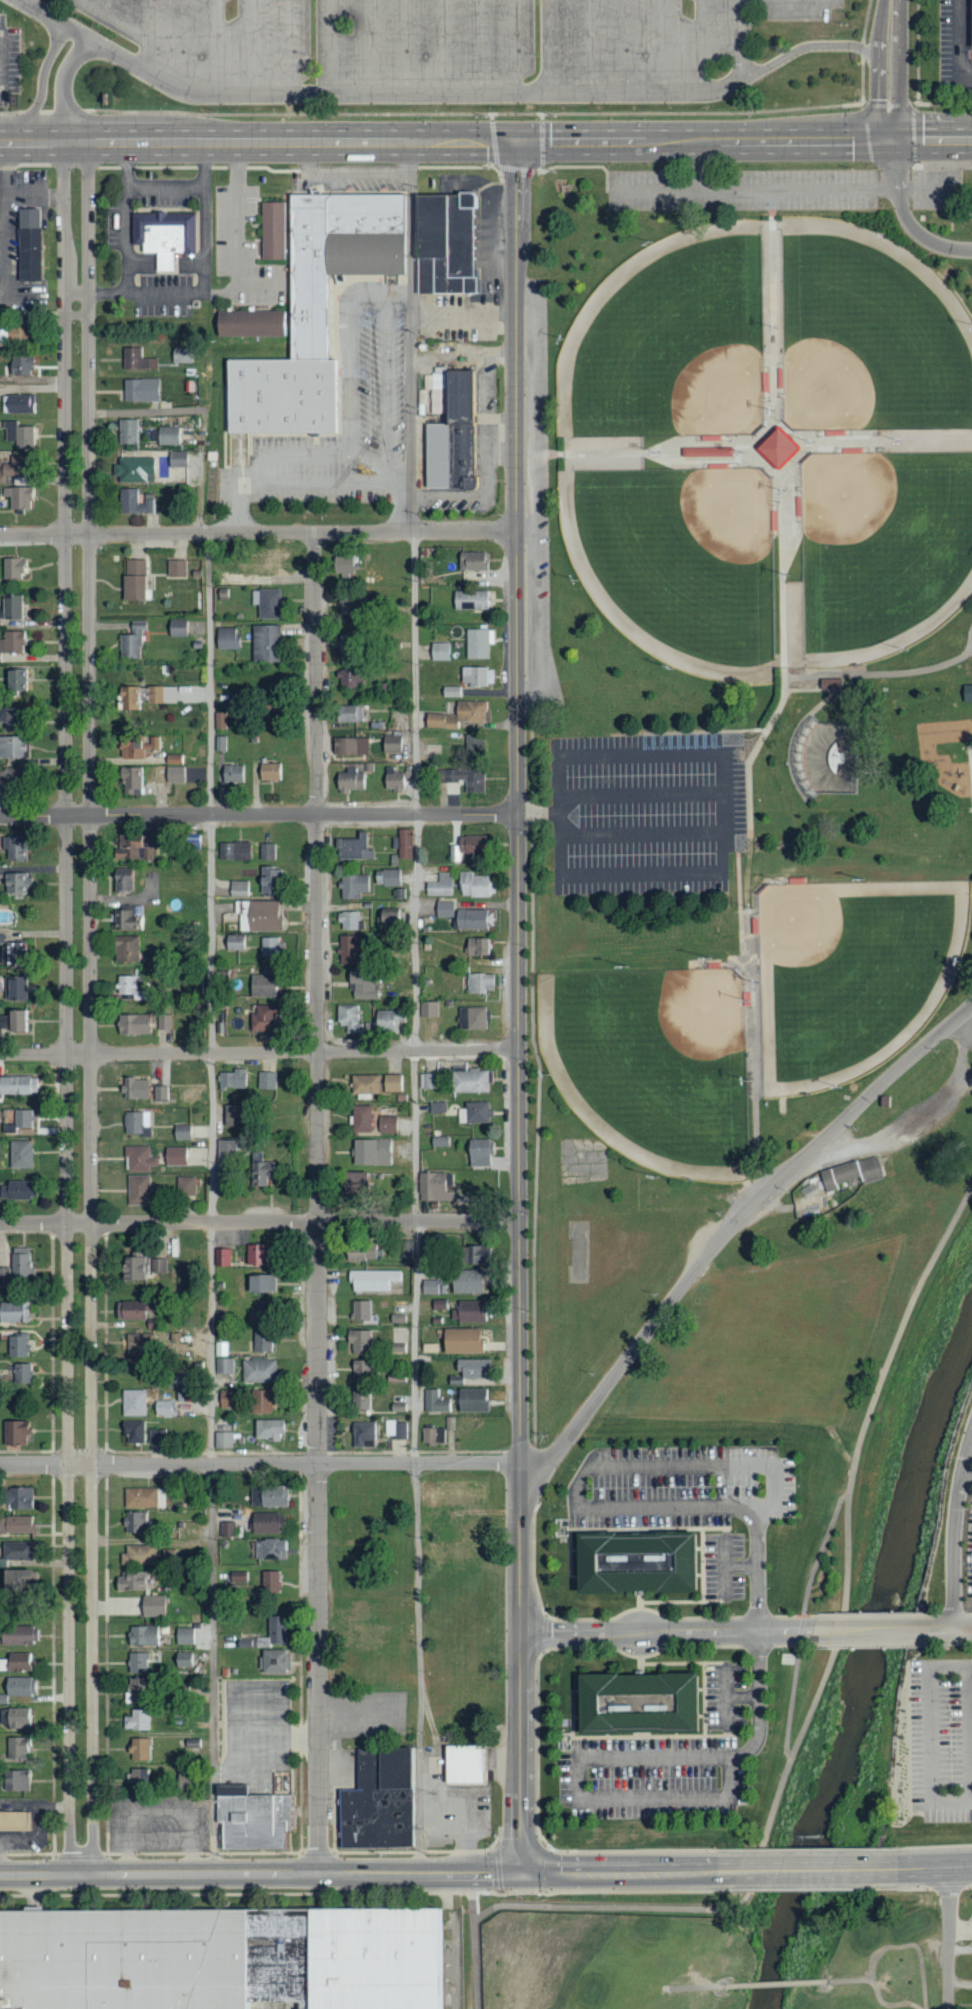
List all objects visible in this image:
road: (782, 0)
road: (109, 10)
road: (60, 19)
road: (146, 20)
road: (120, 26)
building: (971, 27)
parking lot: (456, 38)
road: (739, 39)
road: (181, 41)
road: (958, 42)
road: (216, 46)
road: (253, 46)
road: (290, 46)
road: (334, 46)
road: (371, 46)
road: (407, 46)
road: (444, 46)
road: (481, 46)
road: (515, 46)
road: (549, 46)
road: (590, 46)
road: (625, 46)
road: (663, 46)
road: (699, 46)
parking lot: (955, 51)
road: (2, 60)
parking lot: (10, 61)
road: (893, 70)
road: (41, 85)
road: (64, 86)
road: (493, 92)
traffic signals: (891, 141)
road: (931, 141)
road: (445, 142)
traffic signals: (517, 142)
road: (932, 164)
road: (703, 165)
road: (345, 173)
road: (166, 186)
road: (754, 188)
parking lot: (784, 190)
road: (905, 216)
road: (206, 217)
road: (126, 218)
road: (8, 228)
building: (275, 228)
building: (168, 233)
building: (448, 242)
building: (32, 243)
road: (401, 291)
road: (226, 292)
building: (318, 310)
road: (44, 313)
building: (254, 321)
building: (1, 337)
park: (866, 341)
park: (676, 348)
road: (350, 352)
building: (136, 361)
building: (20, 366)
road: (389, 384)
building: (140, 391)
building: (19, 404)
building: (127, 432)
building: (18, 435)
building: (168, 436)
building: (456, 437)
building: (775, 449)
building: (707, 453)
road: (263, 457)
building: (177, 460)
road: (368, 464)
building: (10, 468)
building: (135, 470)
road: (315, 479)
road: (399, 484)
building: (18, 500)
building: (133, 503)
road: (258, 533)
park: (881, 544)
park: (686, 555)
building: (471, 562)
building: (343, 566)
building: (13, 569)
building: (176, 569)
building: (133, 582)
building: (470, 601)
building: (268, 604)
building: (10, 609)
building: (176, 629)
building: (226, 639)
building: (131, 642)
building: (12, 643)
building: (479, 643)
building: (265, 644)
building: (439, 652)
building: (477, 676)
building: (15, 682)
building: (830, 684)
building: (451, 692)
park: (734, 692)
building: (966, 694)
building: (144, 697)
building: (348, 714)
building: (459, 716)
building: (10, 719)
building: (391, 744)
building: (474, 745)
building: (137, 747)
building: (350, 747)
building: (11, 748)
road: (209, 759)
building: (174, 760)
building: (269, 773)
building: (232, 774)
building: (174, 775)
building: (464, 779)
building: (393, 780)
building: (12, 781)
building: (131, 781)
building: (349, 781)
road: (259, 815)
building: (190, 841)
building: (405, 843)
building: (471, 844)
building: (11, 847)
building: (130, 848)
building: (353, 848)
building: (233, 850)
building: (267, 851)
building: (391, 877)
building: (269, 879)
building: (121, 880)
building: (17, 884)
building: (440, 885)
building: (475, 885)
building: (354, 886)
building: (238, 888)
building: (444, 909)
building: (257, 915)
building: (388, 917)
building: (473, 919)
building: (126, 920)
building: (350, 920)
building: (234, 942)
building: (270, 946)
building: (476, 946)
building: (125, 948)
building: (350, 949)
building: (13, 950)
park: (852, 972)
building: (480, 982)
building: (364, 984)
building: (127, 985)
building: (262, 985)
building: (14, 989)
road: (519, 1005)
road: (66, 1008)
road: (91, 1008)
road: (416, 1008)
building: (429, 1009)
building: (220, 1017)
building: (264, 1017)
building: (348, 1018)
building: (472, 1018)
building: (388, 1020)
building: (14, 1021)
building: (163, 1022)
building: (132, 1024)
road: (260, 1053)
park: (652, 1062)
building: (233, 1079)
building: (427, 1080)
building: (267, 1081)
building: (470, 1081)
building: (392, 1083)
building: (364, 1084)
building: (18, 1086)
building: (134, 1088)
building: (160, 1093)
building: (437, 1107)
building: (474, 1112)
building: (231, 1115)
building: (8, 1116)
building: (361, 1119)
building: (19, 1121)
building: (136, 1123)
building: (387, 1124)
building: (182, 1132)
building: (439, 1141)
building: (226, 1148)
building: (371, 1152)
building: (479, 1152)
building: (19, 1154)
building: (175, 1156)
building: (138, 1158)
building: (258, 1169)
building: (850, 1173)
building: (362, 1181)
building: (185, 1186)
building: (432, 1187)
building: (14, 1190)
building: (138, 1190)
road: (317, 1202)
road: (259, 1221)
road: (732, 1226)
building: (407, 1248)
building: (363, 1252)
building: (256, 1254)
building: (473, 1255)
building: (222, 1257)
building: (157, 1266)
building: (17, 1269)
building: (132, 1269)
building: (374, 1280)
building: (466, 1281)
building: (260, 1283)
building: (429, 1286)
building: (437, 1304)
building: (132, 1310)
building: (261, 1310)
building: (360, 1310)
building: (470, 1311)
building: (13, 1312)
building: (397, 1318)
road: (897, 1335)
building: (140, 1338)
building: (400, 1339)
building: (262, 1341)
building: (359, 1341)
building: (461, 1341)
building: (17, 1346)
building: (221, 1348)
building: (224, 1366)
building: (360, 1370)
building: (468, 1370)
building: (258, 1371)
building: (20, 1374)
building: (227, 1399)
building: (360, 1399)
building: (472, 1400)
building: (435, 1401)
building: (261, 1402)
building: (133, 1403)
building: (397, 1407)
building: (162, 1408)
building: (449, 1424)
building: (395, 1429)
building: (268, 1430)
building: (133, 1432)
building: (15, 1433)
building: (362, 1434)
building: (433, 1435)
building: (155, 1436)
building: (223, 1440)
road: (260, 1456)
road: (260, 1463)
road: (967, 1478)
building: (272, 1496)
parking lot: (689, 1496)
building: (16, 1498)
building: (144, 1498)
road: (586, 1513)
building: (187, 1515)
building: (136, 1523)
building: (266, 1524)
building: (16, 1526)
building: (226, 1528)
road: (955, 1536)
road: (210, 1547)
building: (270, 1550)
building: (16, 1551)
building: (137, 1555)
building: (169, 1557)
building: (642, 1560)
road: (723, 1563)
road: (739, 1565)
parking lot: (969, 1571)
road: (822, 1577)
building: (17, 1581)
building: (130, 1581)
building: (237, 1581)
building: (271, 1582)
building: (152, 1606)
road: (802, 1620)
road: (860, 1630)
road: (951, 1630)
building: (275, 1631)
road: (655, 1632)
building: (17, 1635)
building: (142, 1636)
building: (184, 1636)
building: (243, 1643)
building: (183, 1660)
building: (274, 1661)
building: (16, 1662)
building: (137, 1663)
river: (863, 1664)
road: (950, 1667)
building: (17, 1688)
building: (134, 1691)
road: (739, 1696)
road: (722, 1697)
building: (645, 1703)
building: (15, 1718)
building: (136, 1720)
road: (969, 1735)
parking lot: (941, 1740)
building: (15, 1749)
building: (138, 1749)
road: (930, 1756)
road: (612, 1758)
building: (461, 1765)
parking lot: (665, 1766)
building: (137, 1776)
building: (16, 1781)
building: (377, 1802)
building: (250, 1820)
building: (12, 1821)
road: (767, 1831)
road: (935, 1869)
traffic signals: (521, 1870)
road: (809, 1870)
road: (360, 1872)
road: (949, 1938)
road: (455, 1939)
road: (893, 1947)
building: (226, 1957)
park: (726, 1958)
road: (476, 1965)
road: (960, 1982)
road: (775, 1983)
road: (695, 1986)
road: (894, 1999)
road: (526, 2004)

